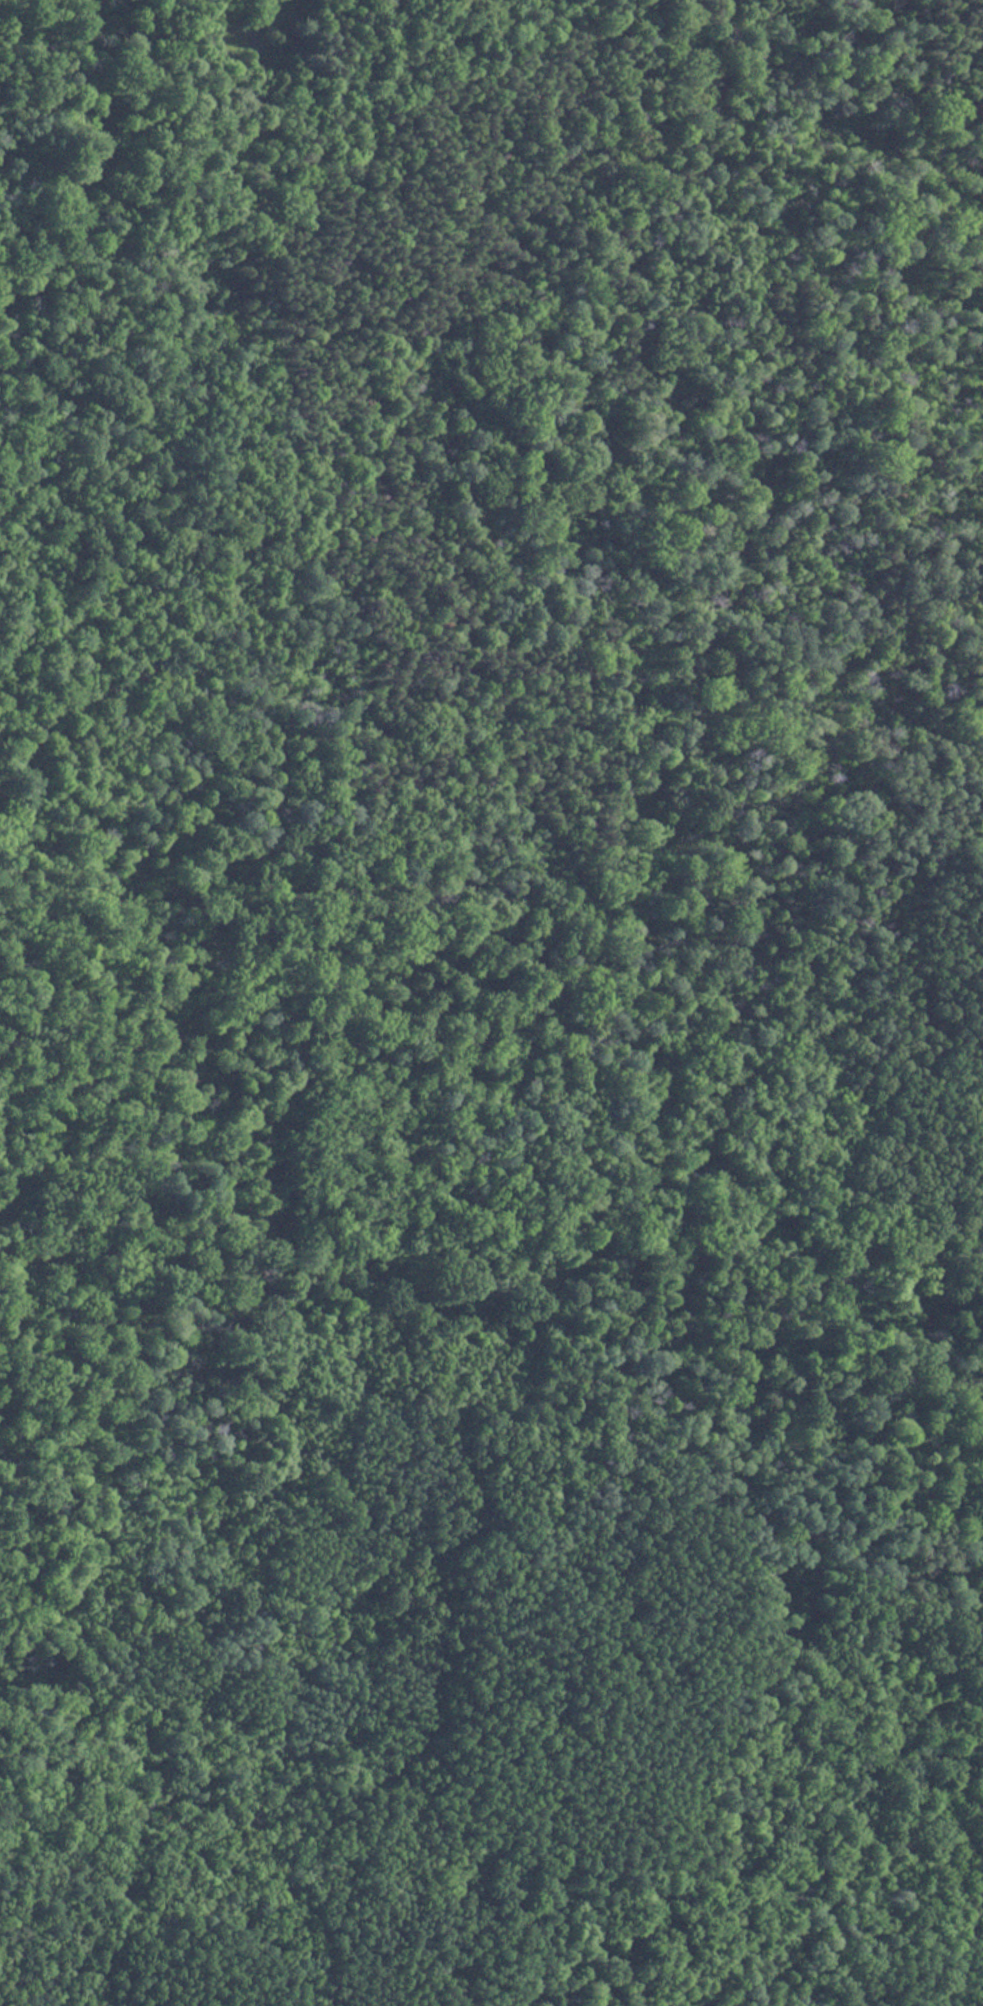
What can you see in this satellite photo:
park: (540, 1032)

